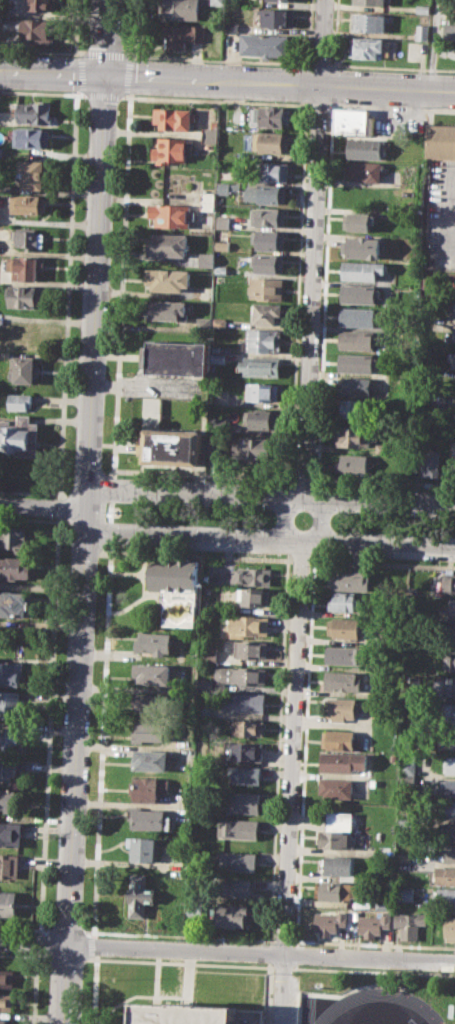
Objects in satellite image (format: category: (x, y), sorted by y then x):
building: (273, 0)
building: (285, 0)
building: (216, 2)
building: (369, 2)
building: (42, 5)
building: (422, 8)
building: (179, 9)
building: (1, 13)
building: (450, 15)
building: (276, 17)
building: (369, 22)
building: (231, 26)
building: (37, 30)
road: (134, 30)
building: (422, 31)
building: (449, 31)
road: (308, 33)
road: (334, 34)
building: (181, 35)
road: (104, 37)
road: (321, 41)
building: (265, 44)
road: (433, 44)
building: (367, 47)
road: (42, 50)
road: (104, 53)
street lamp: (68, 55)
road: (217, 58)
street lamp: (152, 59)
street lamp: (221, 62)
road: (320, 63)
street lamp: (304, 65)
street lamp: (342, 66)
road: (392, 67)
street lamp: (425, 71)
road: (130, 76)
road: (227, 80)
road: (306, 83)
road: (332, 85)
road: (81, 94)
road: (129, 94)
road: (102, 95)
road: (215, 99)
road: (306, 102)
road: (319, 104)
road: (391, 107)
street lamp: (116, 108)
building: (34, 112)
building: (270, 116)
building: (173, 118)
street lamp: (328, 118)
building: (353, 121)
building: (210, 134)
building: (32, 137)
building: (441, 140)
building: (271, 142)
building: (363, 148)
building: (171, 150)
building: (1, 152)
building: (272, 171)
building: (364, 171)
building: (32, 173)
building: (224, 188)
street lamp: (112, 191)
building: (268, 193)
building: (209, 200)
building: (27, 203)
street lamp: (324, 214)
building: (171, 215)
building: (268, 217)
building: (223, 221)
building: (358, 221)
building: (29, 238)
building: (269, 239)
building: (222, 244)
building: (170, 245)
building: (363, 246)
road: (70, 257)
building: (268, 264)
building: (26, 266)
building: (361, 269)
building: (167, 279)
street lamp: (109, 282)
road: (121, 286)
building: (266, 287)
road: (297, 291)
road: (311, 291)
road: (324, 291)
building: (359, 292)
building: (27, 296)
street lamp: (320, 301)
building: (453, 307)
building: (167, 309)
building: (268, 314)
building: (358, 316)
building: (219, 321)
building: (202, 323)
building: (453, 334)
building: (260, 340)
building: (355, 340)
building: (178, 357)
building: (217, 357)
building: (451, 358)
building: (356, 362)
building: (260, 365)
building: (22, 369)
street lamp: (105, 370)
building: (354, 385)
building: (262, 391)
building: (19, 401)
building: (354, 408)
building: (454, 418)
building: (259, 419)
building: (217, 425)
building: (19, 435)
building: (351, 435)
building: (173, 446)
building: (381, 447)
building: (258, 448)
building: (214, 449)
building: (429, 462)
building: (351, 463)
road: (203, 474)
street lamp: (312, 475)
road: (303, 480)
road: (383, 483)
road: (112, 489)
road: (30, 492)
road: (268, 496)
street lamp: (123, 502)
road: (59, 506)
street lamp: (201, 506)
road: (45, 507)
street lamp: (265, 509)
fountain: (115, 510)
street lamp: (106, 511)
road: (111, 511)
street lamp: (337, 512)
street lamp: (415, 515)
street lamp: (54, 517)
road: (281, 517)
road: (29, 519)
road: (319, 519)
street lamp: (329, 520)
street lamp: (122, 521)
street lamp: (200, 523)
street lamp: (265, 527)
street lamp: (336, 529)
road: (110, 532)
street lamp: (413, 533)
road: (267, 536)
building: (14, 540)
road: (88, 549)
road: (200, 556)
street lamp: (98, 559)
road: (299, 560)
road: (382, 563)
street lamp: (308, 565)
building: (15, 568)
building: (251, 576)
building: (349, 580)
building: (450, 583)
building: (176, 589)
building: (254, 597)
building: (343, 602)
building: (13, 604)
building: (452, 607)
building: (247, 626)
building: (343, 626)
building: (450, 633)
building: (154, 642)
building: (454, 643)
street lamp: (94, 645)
building: (250, 649)
street lamp: (305, 651)
building: (344, 654)
building: (207, 655)
building: (449, 660)
building: (152, 673)
building: (9, 674)
building: (239, 676)
building: (341, 681)
building: (205, 684)
building: (450, 686)
building: (153, 702)
building: (242, 702)
building: (9, 705)
building: (341, 707)
building: (206, 711)
building: (449, 712)
road: (49, 724)
building: (247, 727)
building: (148, 731)
building: (446, 737)
street lamp: (90, 738)
building: (11, 739)
building: (338, 739)
road: (102, 740)
street lamp: (301, 741)
road: (277, 750)
building: (245, 751)
road: (305, 751)
building: (151, 759)
building: (342, 761)
building: (408, 764)
building: (449, 764)
building: (8, 769)
building: (243, 774)
road: (291, 781)
building: (448, 787)
building: (336, 788)
building: (150, 789)
building: (10, 800)
building: (242, 801)
building: (448, 809)
building: (151, 819)
building: (238, 829)
building: (338, 831)
building: (447, 831)
building: (10, 833)
street lamp: (85, 833)
street lamp: (297, 835)
building: (142, 847)
building: (446, 851)
building: (238, 862)
building: (338, 864)
building: (9, 866)
building: (444, 874)
building: (237, 888)
building: (336, 890)
building: (404, 894)
building: (139, 895)
building: (445, 896)
building: (8, 903)
building: (382, 903)
building: (232, 915)
building: (329, 921)
street lamp: (82, 924)
building: (373, 924)
building: (409, 925)
street lamp: (293, 927)
road: (24, 928)
building: (450, 928)
road: (66, 930)
road: (179, 935)
road: (283, 940)
road: (38, 943)
road: (373, 944)
road: (96, 945)
road: (227, 950)
road: (22, 955)
street lamp: (109, 956)
road: (65, 957)
street lamp: (203, 961)
road: (179, 962)
road: (282, 966)
street lamp: (298, 966)
street lamp: (388, 968)
street lamp: (83, 970)
road: (373, 970)
road: (156, 974)
road: (188, 976)
building: (6, 977)
road: (35, 988)
road: (95, 989)
parking lot: (281, 998)
building: (7, 1000)
road: (336, 1004)
parking lot: (378, 1005)
road: (383, 1006)
building: (198, 1014)
building: (3, 1020)

